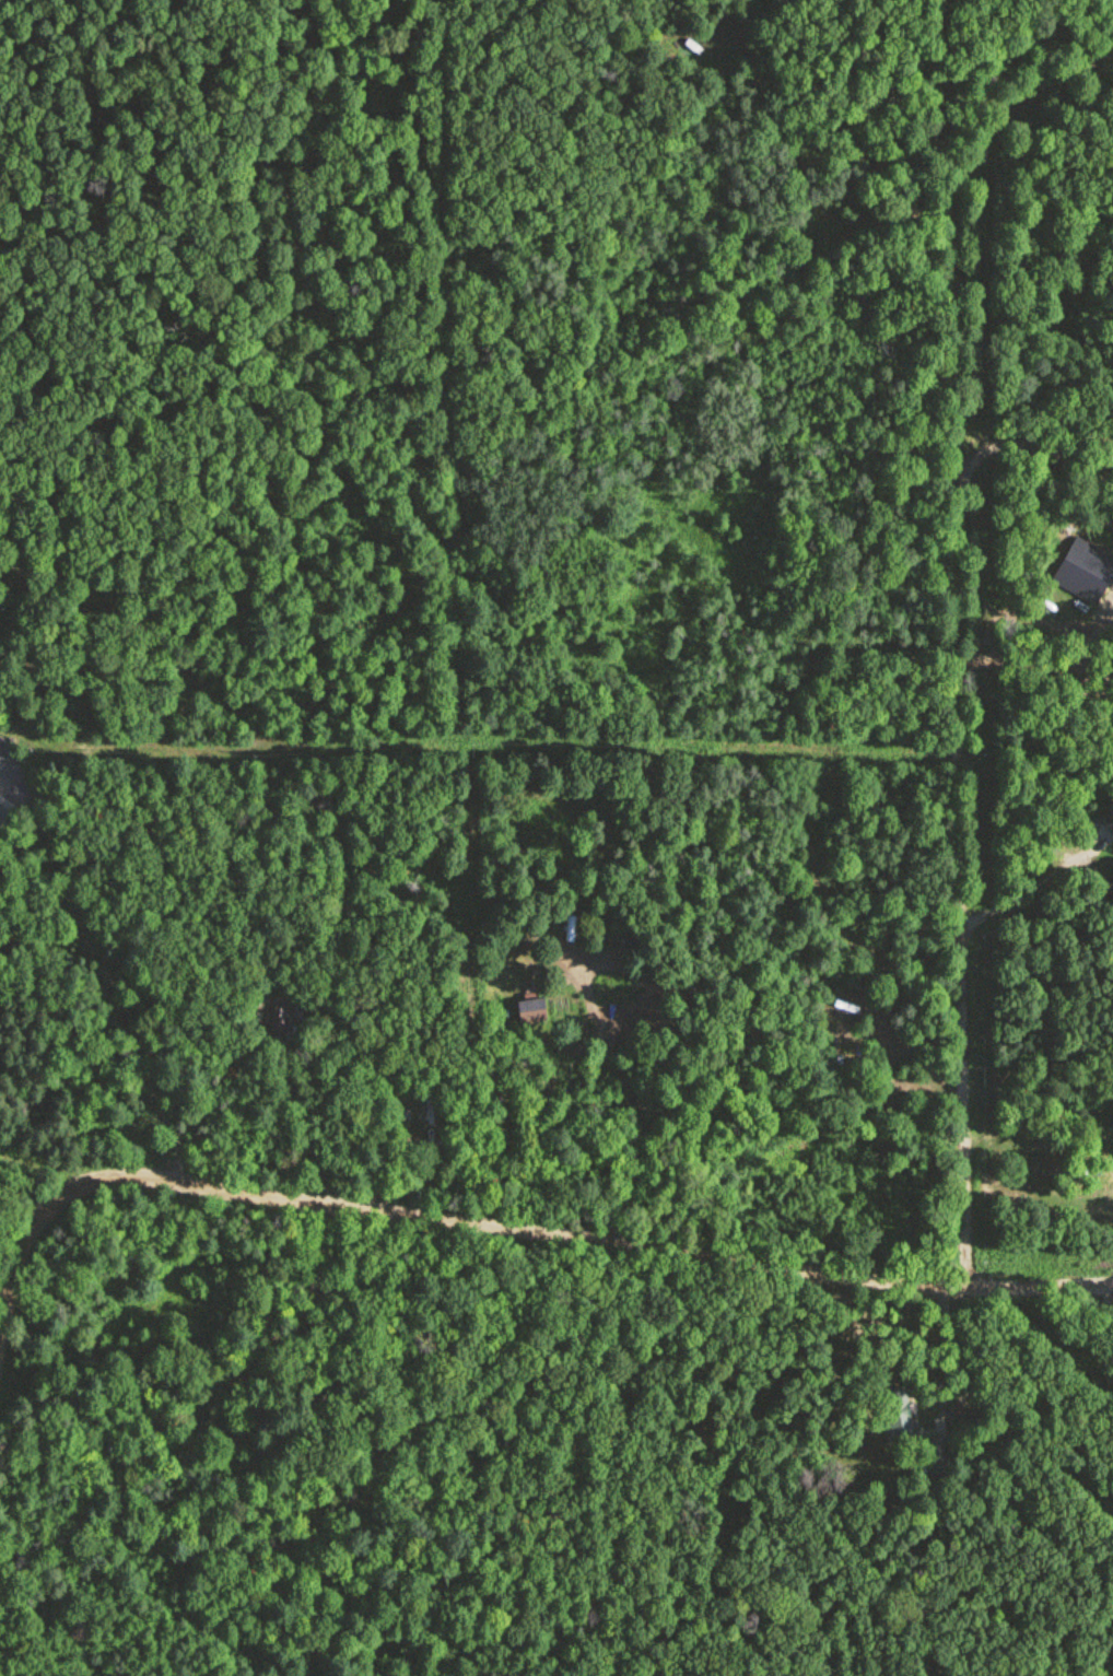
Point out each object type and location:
road: (1039, 443)
road: (1103, 469)
road: (963, 637)
road: (1085, 647)
road: (1008, 658)
road: (1080, 687)
building: (5, 820)
building: (1108, 820)
road: (1034, 886)
road: (85, 930)
building: (530, 1011)
road: (628, 1086)
road: (57, 1162)
road: (421, 1181)
road: (579, 1238)
road: (19, 1282)
road: (1108, 1296)
road: (960, 1366)
building: (899, 1416)
building: (937, 1454)

